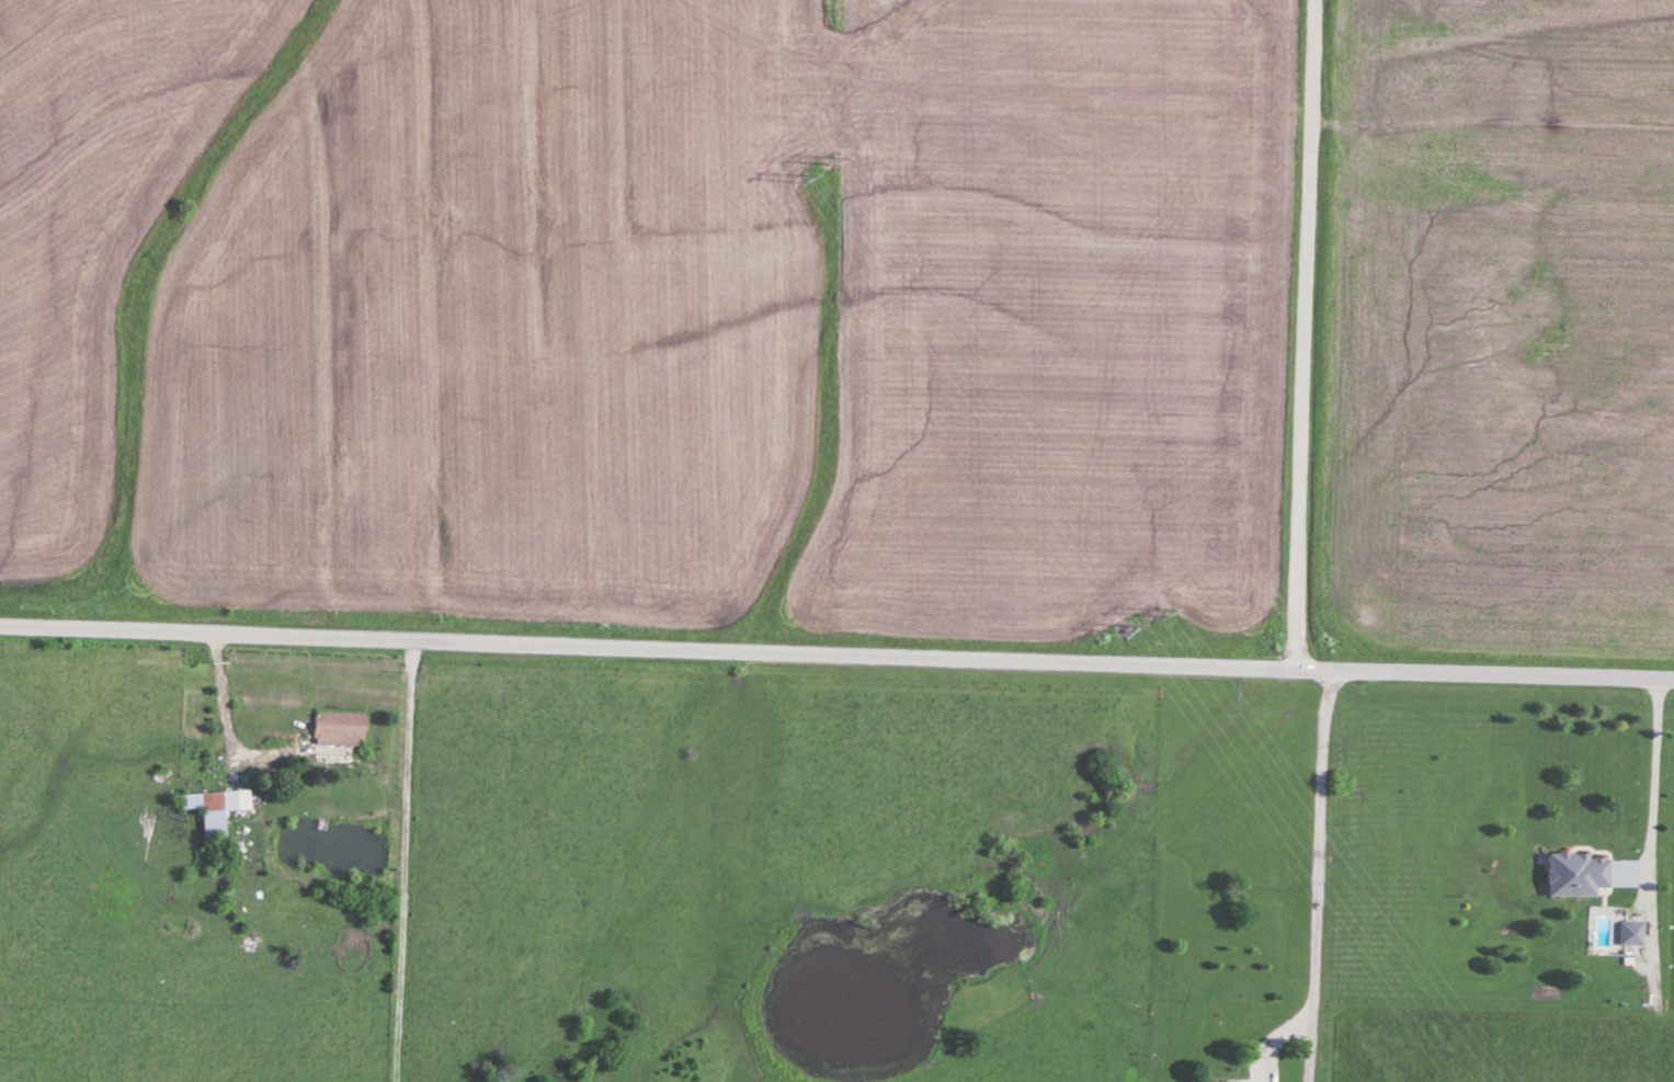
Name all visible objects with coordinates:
power tower: (831, 156)
power tower: (793, 171)
road: (1307, 331)
power tower: (1152, 608)
power tower: (1119, 626)
road: (836, 661)
road: (223, 697)
building: (338, 728)
road: (1655, 773)
building: (207, 810)
road: (1317, 872)
building: (1576, 874)
building: (1630, 932)

